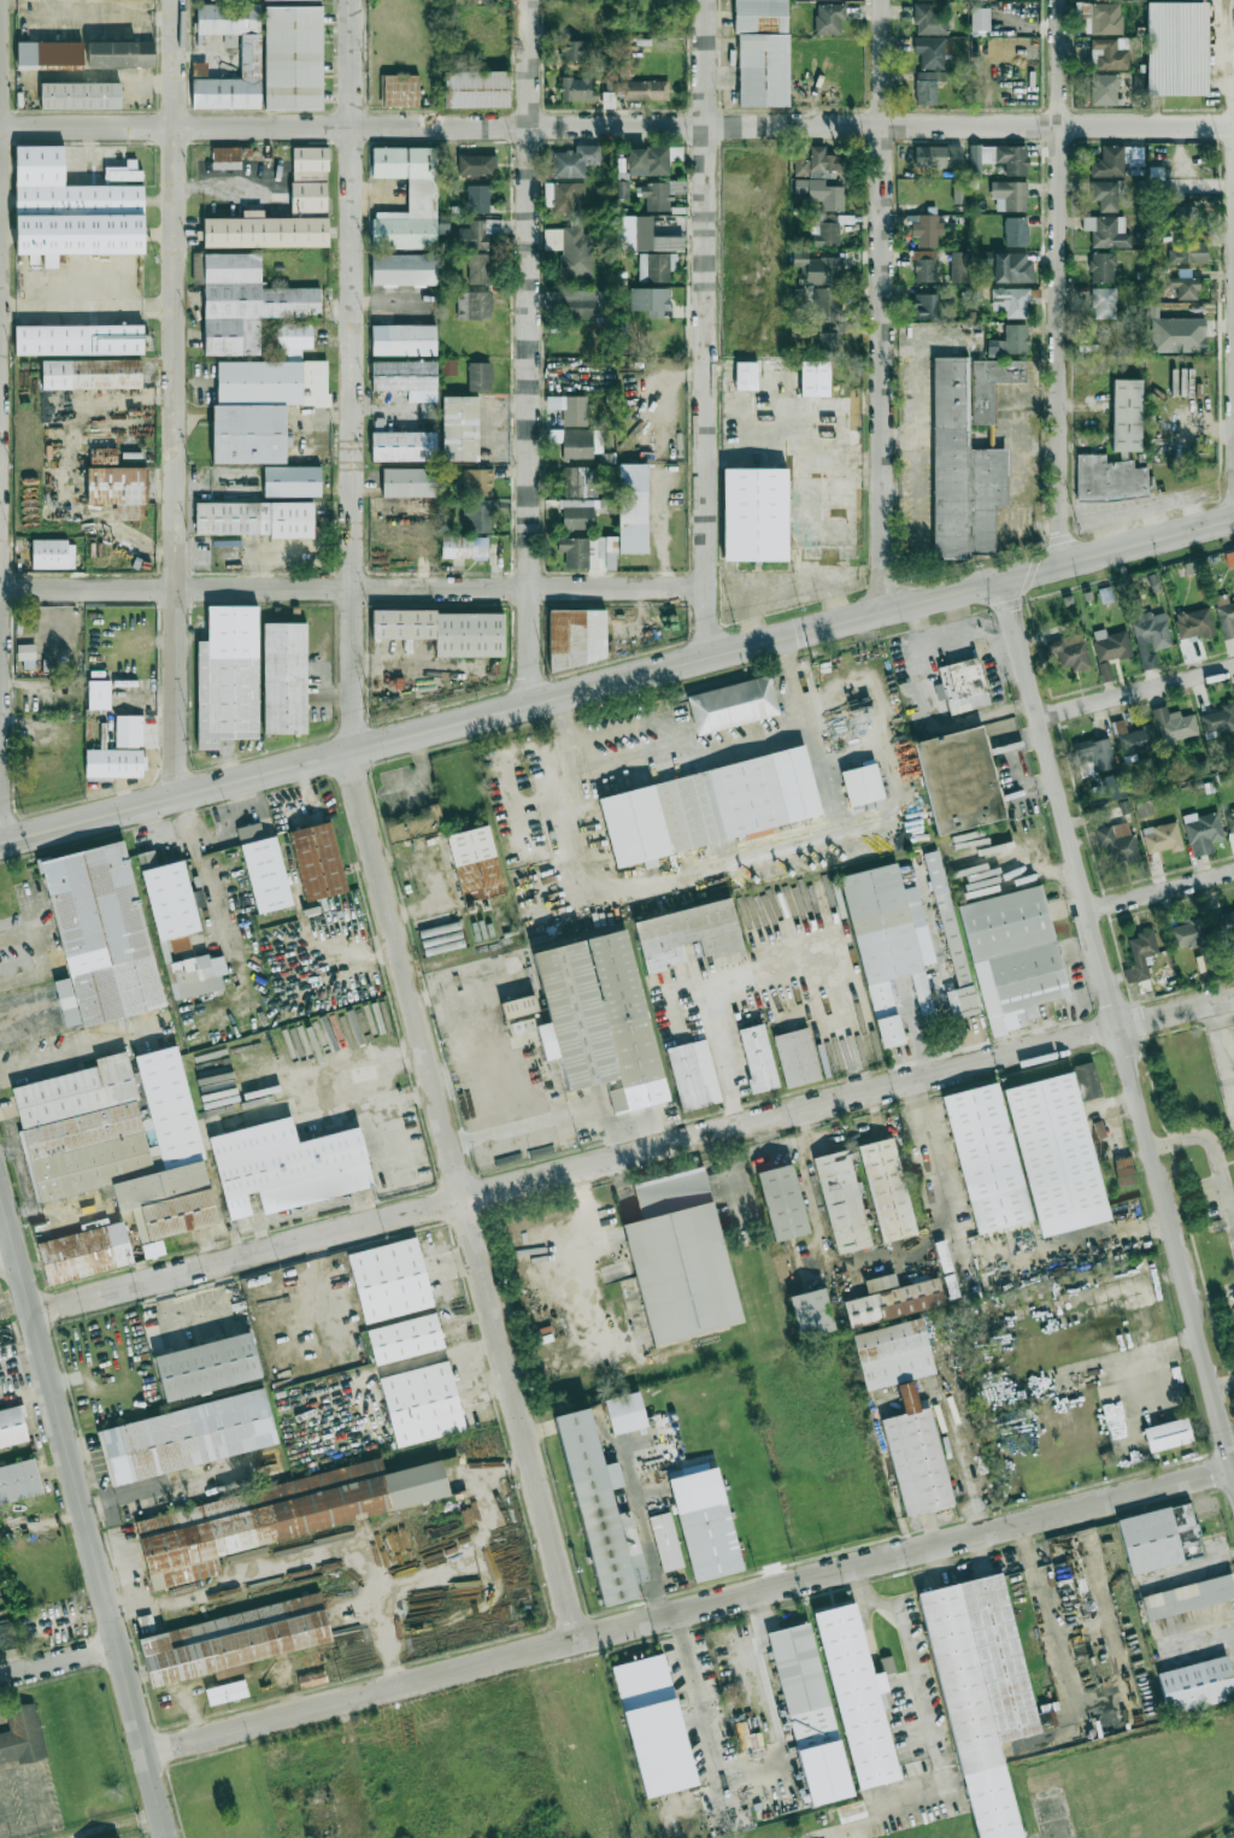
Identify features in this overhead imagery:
building: (227, 0)
building: (487, 0)
building: (829, 17)
building: (979, 18)
building: (1103, 18)
building: (928, 19)
building: (600, 20)
building: (576, 24)
building: (1176, 47)
building: (577, 49)
building: (932, 49)
building: (1110, 52)
building: (49, 53)
building: (121, 53)
building: (762, 53)
building: (249, 55)
building: (293, 57)
building: (605, 64)
building: (199, 69)
building: (927, 86)
building: (476, 88)
building: (576, 88)
building: (399, 89)
building: (646, 89)
building: (1103, 89)
building: (80, 95)
building: (607, 99)
road: (835, 123)
road: (219, 127)
building: (228, 155)
building: (938, 155)
building: (998, 158)
building: (574, 159)
building: (651, 159)
building: (1118, 160)
building: (815, 162)
building: (476, 164)
building: (123, 171)
building: (308, 178)
building: (622, 190)
building: (659, 193)
building: (821, 193)
building: (1106, 193)
building: (421, 194)
building: (566, 194)
building: (1010, 195)
building: (477, 198)
building: (71, 210)
road: (0, 218)
building: (928, 228)
building: (264, 230)
building: (1015, 230)
building: (1106, 230)
building: (624, 231)
building: (472, 234)
building: (824, 234)
building: (576, 251)
building: (1187, 251)
building: (656, 265)
building: (924, 265)
building: (958, 266)
building: (1011, 266)
building: (1101, 266)
building: (478, 268)
building: (816, 268)
building: (404, 269)
road: (1060, 282)
building: (1183, 286)
building: (242, 300)
building: (650, 300)
building: (1010, 300)
building: (580, 303)
building: (823, 303)
building: (1103, 303)
building: (472, 305)
road: (883, 305)
building: (924, 305)
road: (88, 309)
road: (706, 328)
building: (1176, 334)
building: (293, 337)
building: (78, 339)
building: (402, 339)
building: (1010, 340)
building: (827, 342)
road: (530, 352)
building: (448, 366)
building: (90, 372)
building: (402, 375)
building: (746, 375)
building: (478, 376)
building: (813, 377)
road: (176, 398)
building: (260, 406)
building: (569, 407)
building: (427, 410)
building: (1127, 415)
building: (459, 428)
building: (577, 444)
building: (402, 445)
building: (966, 453)
building: (102, 457)
building: (1109, 477)
building: (476, 480)
building: (290, 481)
building: (409, 481)
building: (580, 481)
building: (117, 489)
building: (822, 505)
building: (631, 509)
building: (578, 512)
building: (752, 515)
building: (481, 517)
building: (255, 518)
building: (463, 546)
building: (587, 552)
building: (52, 553)
building: (1229, 558)
building: (1152, 581)
road: (618, 588)
road: (177, 589)
road: (443, 589)
building: (1226, 618)
building: (1193, 622)
building: (445, 629)
building: (1150, 635)
building: (574, 636)
building: (1110, 644)
building: (1068, 651)
building: (27, 656)
building: (1104, 669)
building: (227, 675)
building: (284, 677)
road: (616, 681)
road: (795, 681)
building: (965, 686)
road: (1135, 691)
building: (98, 693)
building: (731, 704)
building: (1218, 720)
building: (1173, 724)
building: (128, 729)
building: (1134, 738)
road: (560, 741)
road: (1, 752)
building: (1093, 756)
building: (114, 762)
building: (954, 781)
building: (862, 785)
building: (706, 808)
building: (1142, 808)
building: (1230, 821)
building: (415, 824)
road: (187, 827)
building: (249, 832)
road: (369, 832)
building: (1201, 832)
building: (1160, 836)
building: (1117, 842)
building: (317, 861)
building: (475, 863)
building: (266, 874)
road: (1160, 891)
building: (168, 895)
road: (597, 904)
building: (1223, 921)
road: (219, 922)
building: (686, 933)
building: (1187, 933)
building: (99, 935)
building: (950, 939)
building: (888, 943)
road: (17, 945)
road: (834, 955)
building: (1012, 955)
building: (1139, 956)
building: (196, 975)
building: (518, 1006)
building: (599, 1018)
road: (1120, 1030)
road: (1223, 1044)
road: (719, 1057)
building: (757, 1057)
building: (797, 1057)
road: (30, 1074)
building: (693, 1074)
building: (1086, 1080)
road: (306, 1094)
road: (1122, 1110)
road: (1111, 1137)
building: (118, 1139)
road: (1206, 1140)
road: (7, 1150)
road: (631, 1153)
building: (1024, 1157)
building: (287, 1165)
road: (20, 1167)
building: (1123, 1170)
building: (887, 1190)
building: (841, 1200)
building: (782, 1202)
road: (590, 1227)
building: (152, 1249)
building: (83, 1252)
road: (8, 1259)
building: (675, 1259)
road: (889, 1268)
building: (387, 1281)
road: (536, 1299)
building: (892, 1299)
road: (1058, 1304)
building: (811, 1311)
building: (879, 1325)
building: (402, 1340)
road: (1158, 1349)
road: (623, 1360)
road: (412, 1364)
building: (206, 1367)
road: (1083, 1368)
road: (1223, 1385)
building: (421, 1405)
building: (624, 1411)
building: (905, 1411)
building: (11, 1426)
building: (1167, 1433)
building: (188, 1435)
building: (18, 1480)
road: (971, 1491)
building: (600, 1511)
road: (83, 1514)
building: (276, 1515)
building: (705, 1523)
road: (645, 1527)
building: (1159, 1538)
building: (665, 1542)
building: (1188, 1596)
road: (691, 1609)
road: (764, 1627)
road: (1197, 1631)
building: (7, 1636)
building: (231, 1640)
road: (1065, 1656)
road: (59, 1663)
road: (912, 1666)
building: (311, 1679)
building: (1197, 1685)
building: (225, 1692)
building: (982, 1693)
building: (857, 1696)
building: (810, 1714)
building: (653, 1725)
building: (22, 1736)
road: (728, 1769)
building: (851, 1811)
road: (872, 1816)

